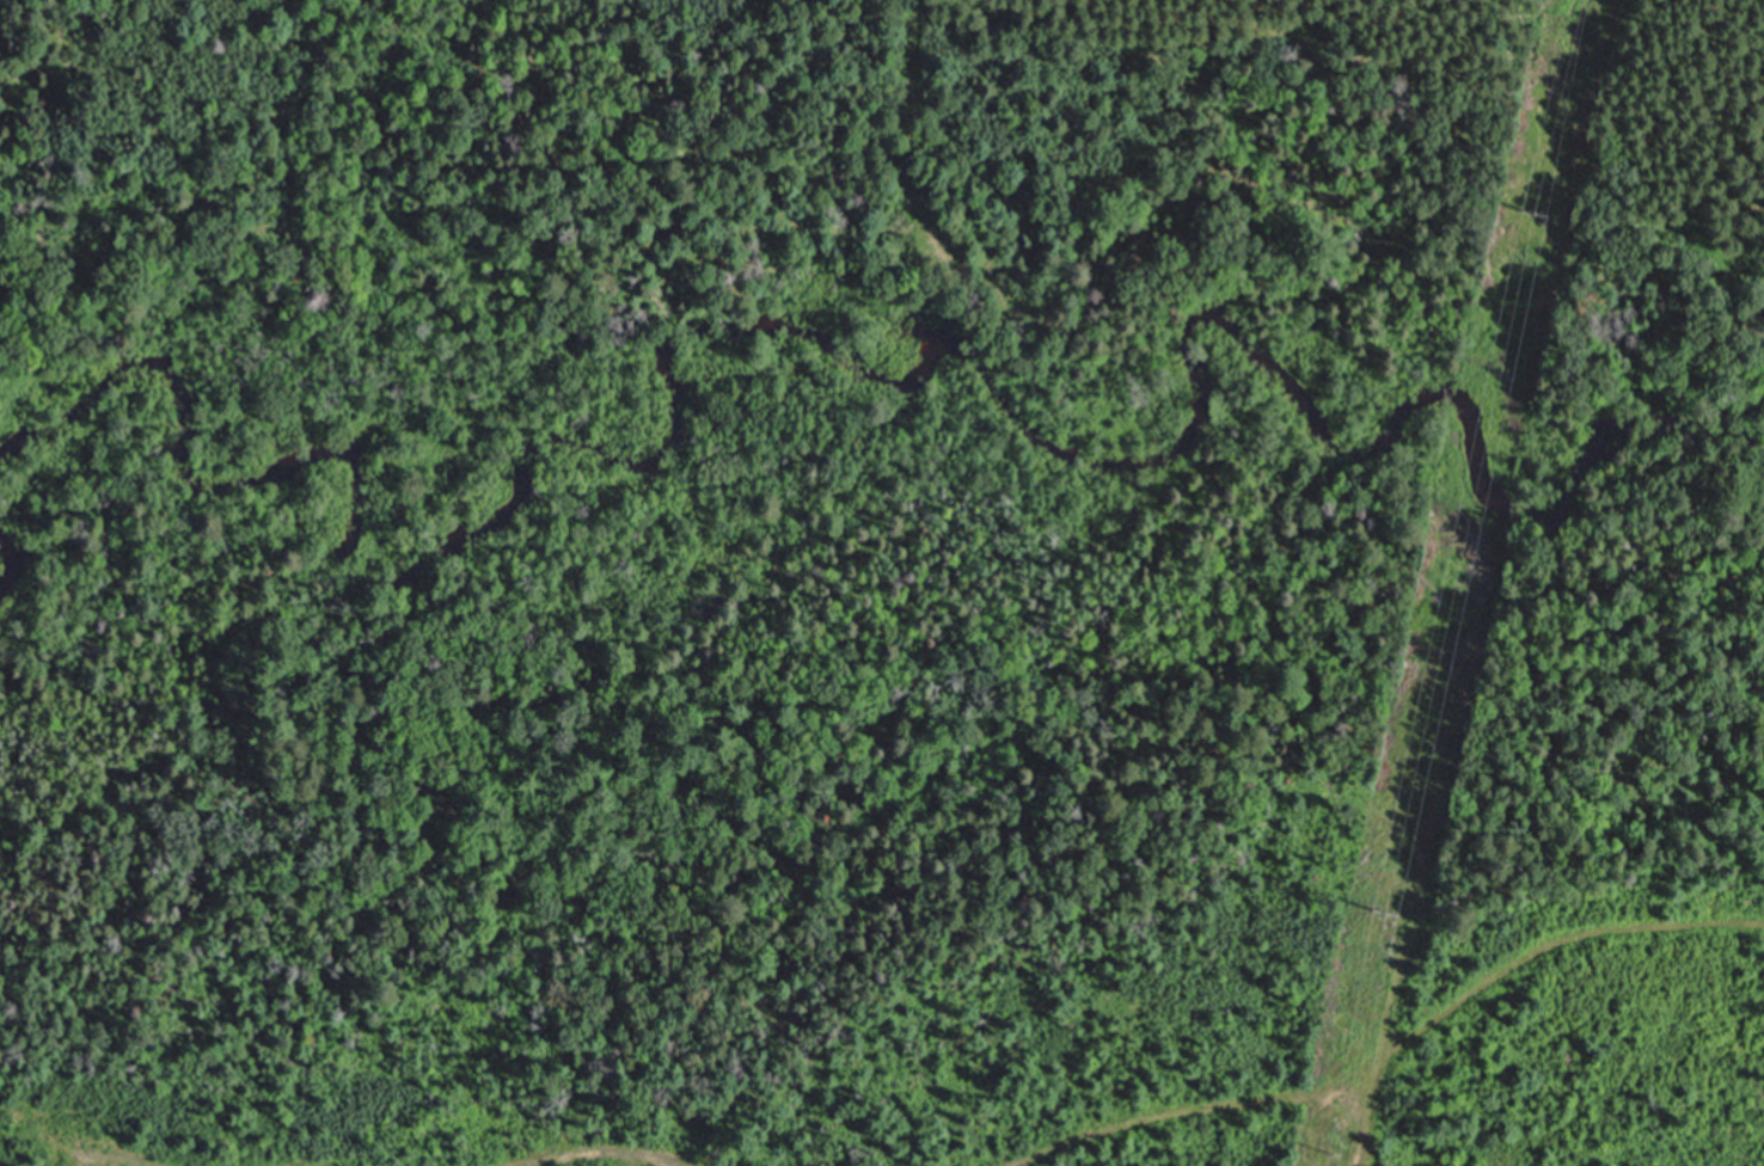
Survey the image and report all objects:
power tower: (1546, 214)
river: (721, 323)
park: (1698, 360)
river: (8, 542)
power tower: (1396, 913)
power tower: (1349, 1154)

